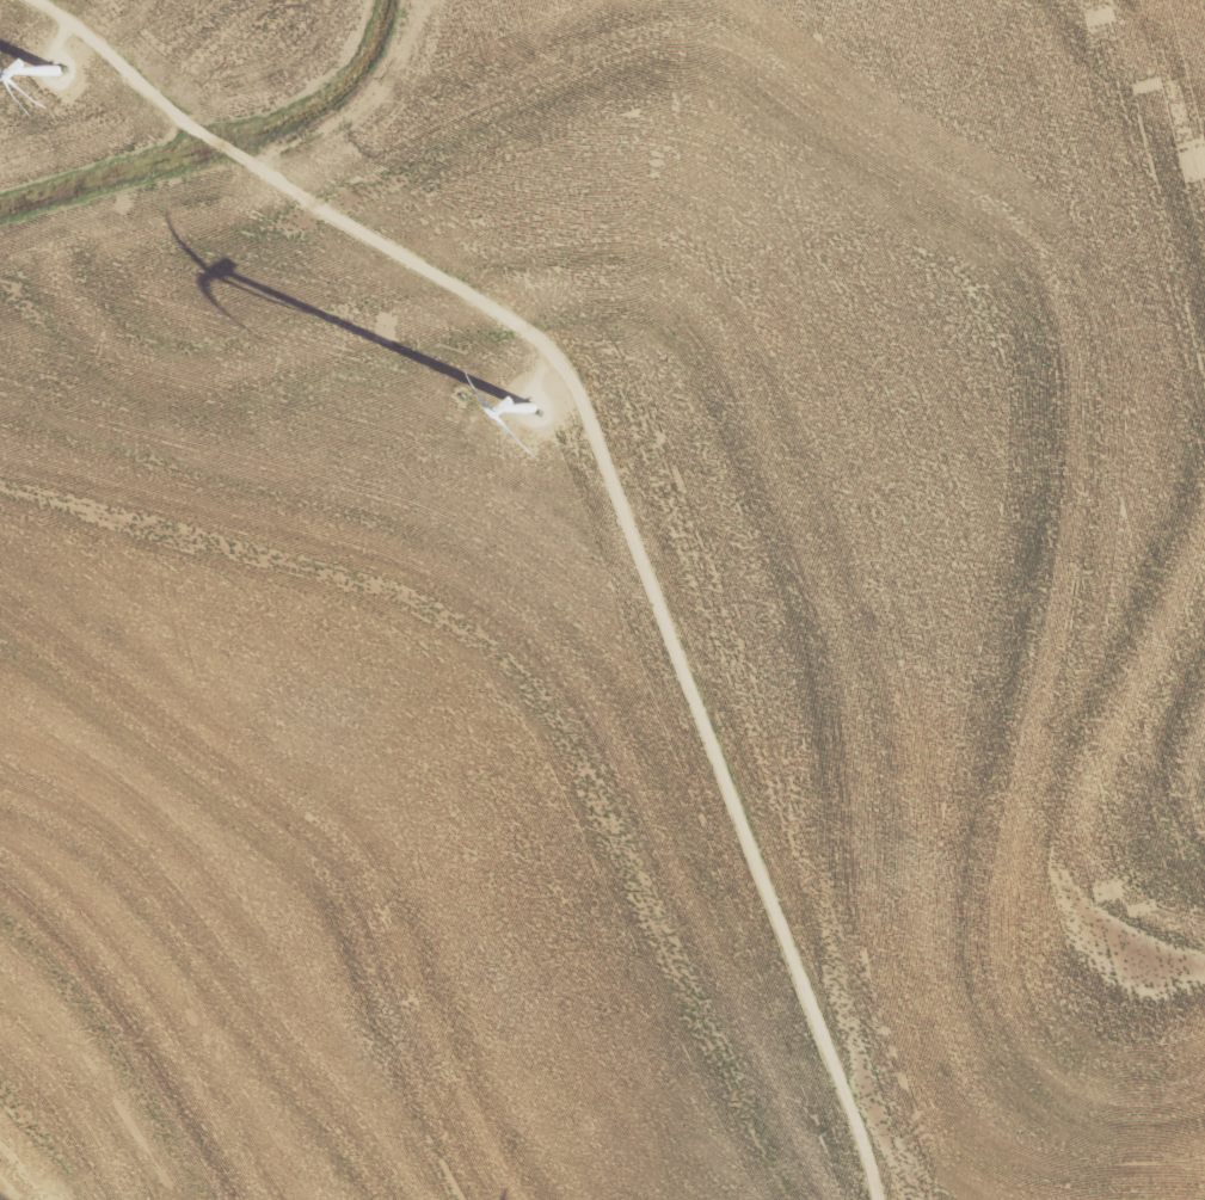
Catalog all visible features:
wind turbine: (43, 66)
wind turbine: (545, 423)
road: (611, 478)

